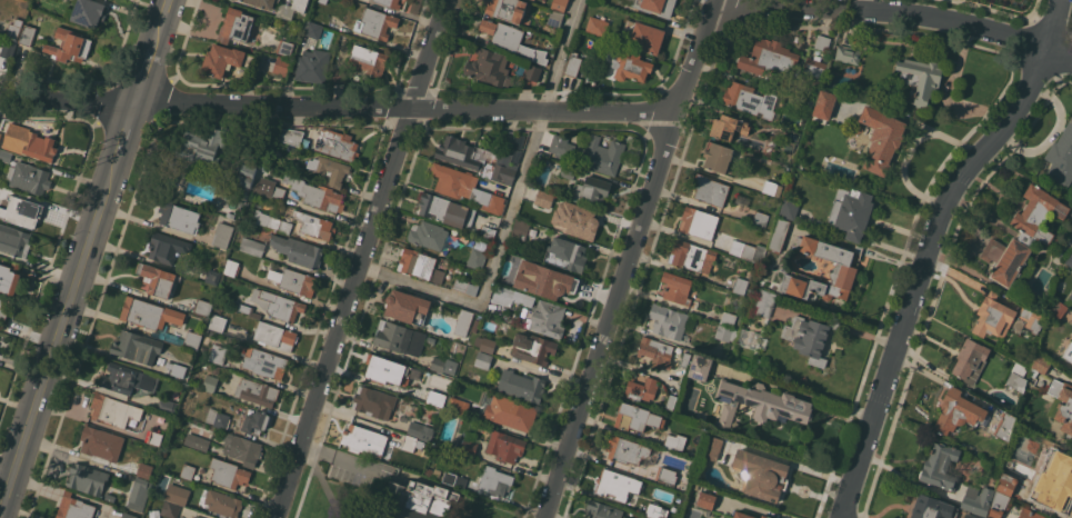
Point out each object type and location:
building: (322, 1)
building: (390, 2)
building: (262, 3)
building: (299, 4)
building: (559, 4)
building: (653, 6)
road: (775, 7)
building: (507, 9)
building: (87, 12)
building: (555, 18)
road: (163, 19)
building: (375, 22)
building: (236, 26)
building: (598, 27)
road: (971, 27)
building: (14, 28)
building: (313, 29)
building: (27, 34)
building: (641, 36)
building: (510, 39)
building: (582, 40)
building: (822, 42)
building: (69, 46)
building: (8, 47)
building: (285, 48)
building: (848, 53)
building: (769, 57)
building: (369, 59)
building: (222, 60)
building: (282, 64)
building: (313, 66)
building: (573, 66)
building: (630, 66)
building: (489, 67)
building: (814, 67)
road: (147, 71)
building: (533, 72)
building: (339, 74)
building: (921, 78)
building: (750, 99)
building: (805, 104)
building: (823, 104)
road: (338, 108)
building: (729, 127)
building: (856, 127)
building: (0, 131)
road: (126, 132)
building: (288, 135)
building: (791, 138)
building: (881, 138)
building: (28, 141)
building: (208, 141)
building: (543, 141)
building: (337, 143)
building: (561, 147)
building: (457, 151)
building: (603, 155)
building: (718, 156)
building: (1061, 158)
building: (504, 168)
building: (329, 169)
building: (569, 170)
building: (29, 177)
building: (1, 180)
building: (246, 180)
building: (464, 187)
building: (269, 188)
building: (772, 188)
building: (197, 189)
building: (710, 189)
building: (591, 190)
building: (315, 193)
building: (544, 198)
building: (445, 209)
building: (789, 209)
building: (20, 210)
building: (851, 211)
road: (511, 212)
building: (179, 217)
building: (760, 219)
building: (269, 221)
building: (699, 222)
building: (581, 223)
building: (313, 225)
building: (520, 229)
building: (488, 232)
building: (768, 233)
building: (1070, 233)
building: (222, 235)
building: (428, 235)
building: (779, 235)
building: (1024, 235)
building: (14, 240)
building: (1069, 240)
building: (252, 246)
building: (167, 247)
road: (929, 247)
building: (298, 250)
building: (748, 250)
building: (565, 255)
building: (691, 256)
road: (363, 258)
building: (477, 258)
road: (631, 258)
building: (1069, 259)
building: (417, 262)
building: (533, 267)
building: (843, 267)
building: (231, 268)
building: (438, 276)
building: (9, 277)
building: (212, 277)
building: (158, 279)
building: (292, 280)
building: (740, 285)
building: (465, 286)
building: (677, 287)
building: (560, 289)
building: (508, 295)
building: (1069, 300)
building: (764, 303)
building: (278, 305)
building: (202, 307)
building: (408, 308)
building: (1058, 308)
building: (2, 309)
building: (246, 309)
building: (150, 313)
building: (993, 316)
building: (547, 319)
building: (728, 319)
building: (1028, 319)
building: (670, 321)
building: (217, 322)
building: (463, 322)
building: (475, 325)
building: (725, 332)
road: (58, 333)
building: (275, 336)
building: (810, 337)
building: (399, 338)
building: (192, 339)
building: (430, 340)
building: (484, 343)
building: (138, 347)
building: (533, 348)
building: (653, 351)
building: (1069, 352)
building: (218, 353)
building: (685, 359)
building: (483, 360)
building: (971, 360)
building: (263, 362)
building: (1040, 363)
building: (178, 365)
building: (443, 366)
building: (700, 367)
building: (383, 368)
building: (216, 369)
building: (1071, 370)
building: (1018, 377)
building: (124, 380)
building: (210, 382)
building: (522, 385)
building: (641, 388)
building: (257, 391)
building: (429, 396)
building: (373, 401)
building: (671, 401)
building: (1061, 404)
building: (167, 405)
building: (759, 405)
building: (459, 406)
building: (189, 408)
building: (109, 409)
building: (509, 411)
building: (958, 411)
building: (472, 417)
building: (637, 417)
building: (217, 418)
building: (256, 421)
building: (1005, 426)
building: (421, 429)
building: (154, 437)
building: (365, 440)
building: (197, 441)
building: (674, 441)
building: (101, 442)
building: (409, 442)
building: (505, 446)
building: (468, 447)
building: (243, 449)
building: (625, 449)
building: (714, 449)
road: (335, 457)
building: (941, 466)
building: (144, 469)
road: (6, 470)
parking lot: (354, 470)
building: (428, 470)
building: (187, 471)
building: (228, 472)
building: (437, 472)
building: (761, 474)
building: (660, 477)
building: (88, 478)
building: (453, 479)
building: (1052, 479)
building: (495, 480)
road: (325, 484)
building: (1006, 484)
building: (614, 485)
building: (139, 492)
building: (178, 494)
park: (389, 494)
building: (110, 497)
building: (978, 499)
building: (413, 500)
building: (707, 500)
building: (222, 502)
building: (999, 505)
building: (74, 507)
building: (932, 508)
building: (170, 509)
road: (760, 509)
building: (602, 510)
building: (654, 511)
building: (153, 514)
building: (1030, 514)
building: (129, 515)
building: (743, 515)
building: (765, 516)
building: (970, 516)
building: (196, 517)

